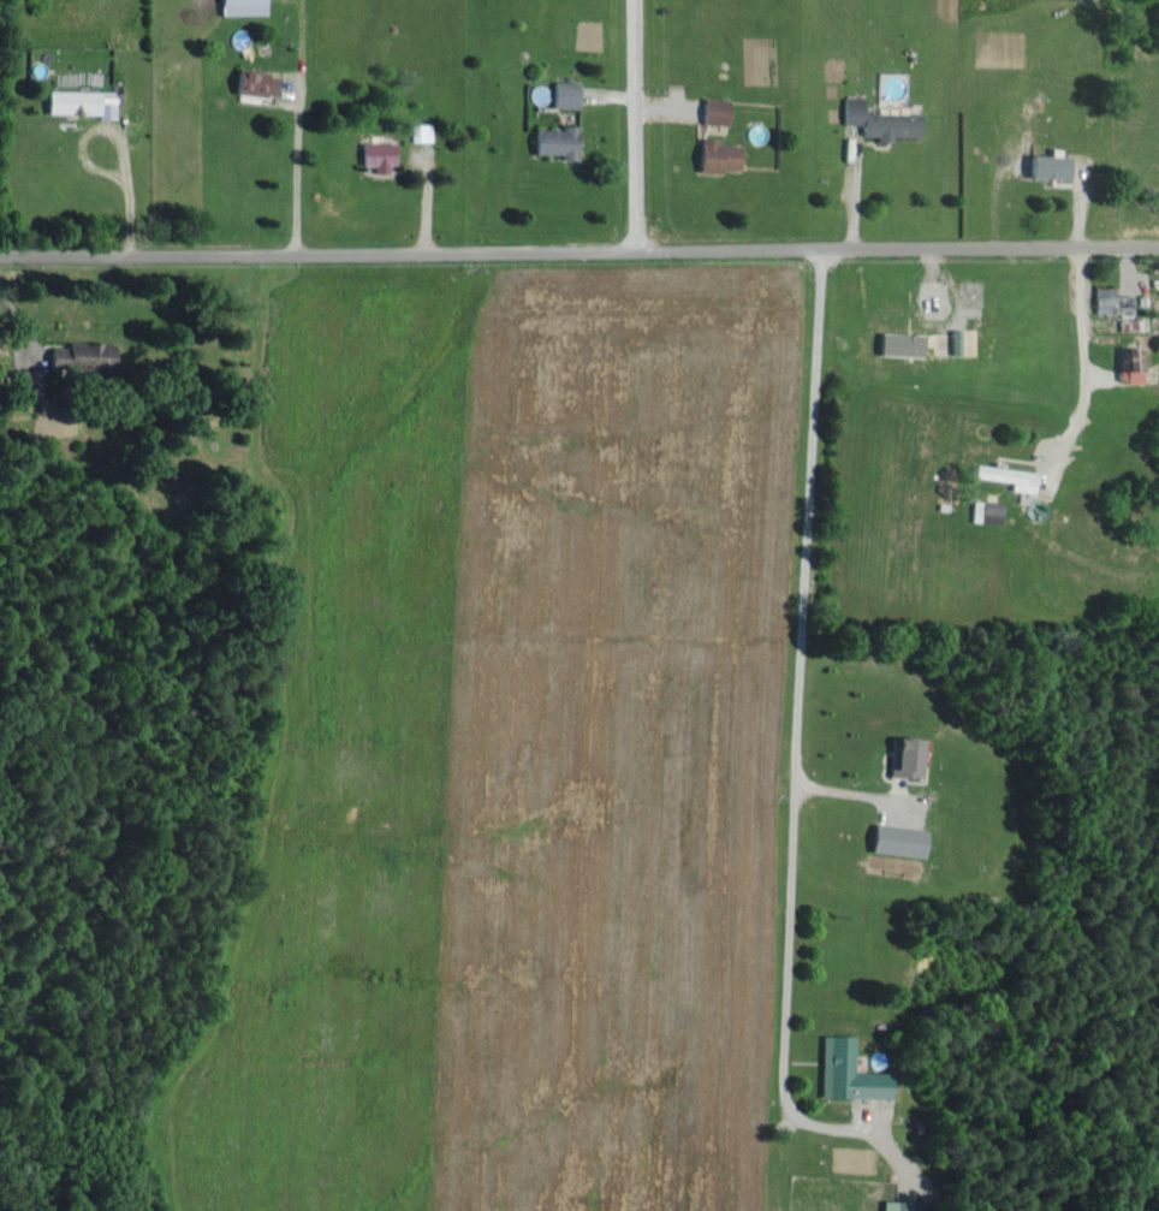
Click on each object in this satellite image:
building: (240, 6)
building: (254, 82)
building: (564, 94)
building: (79, 101)
building: (713, 111)
building: (878, 120)
road: (634, 125)
building: (420, 131)
building: (555, 141)
building: (376, 153)
building: (715, 155)
building: (1047, 166)
road: (295, 176)
road: (579, 250)
building: (1111, 302)
building: (82, 358)
building: (1129, 364)
building: (28, 384)
building: (974, 510)
road: (797, 658)
building: (904, 758)
building: (896, 839)
building: (846, 1073)
building: (898, 1206)

